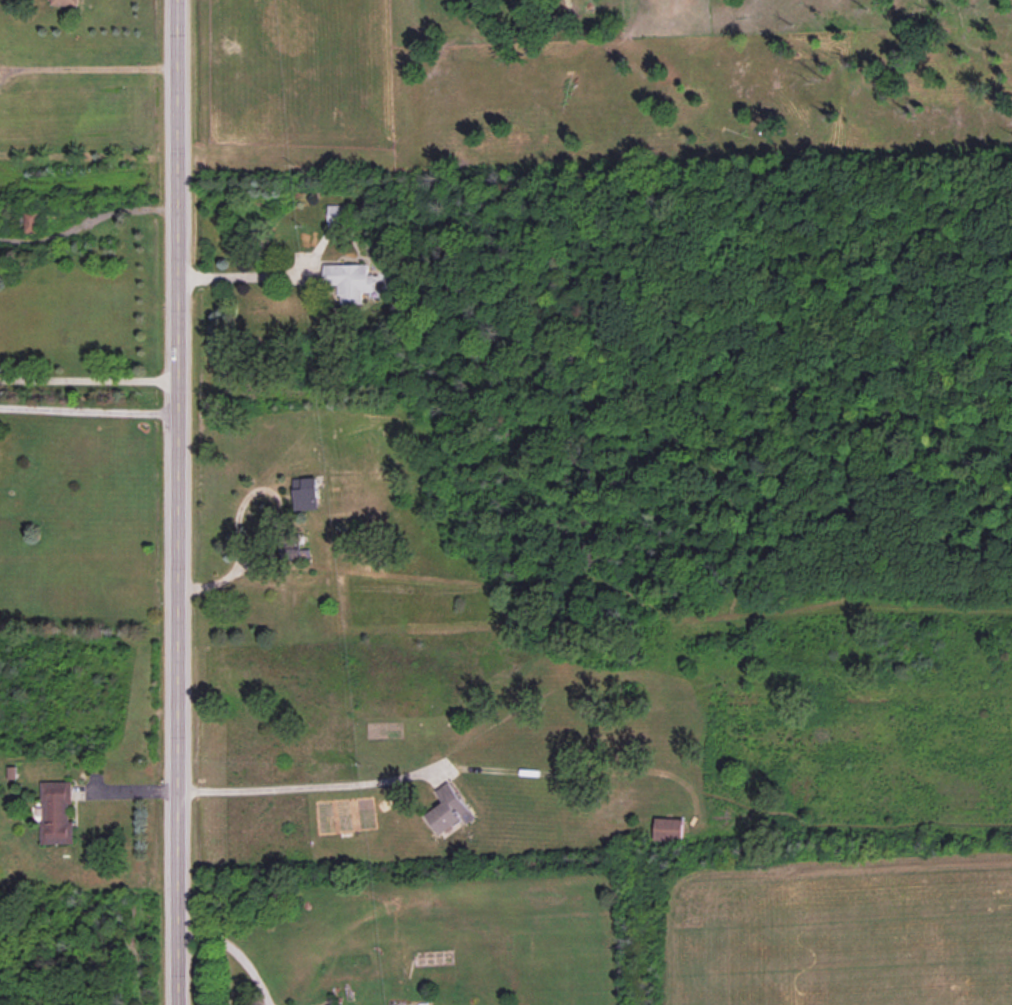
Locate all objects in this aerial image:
building: (65, 2)
road: (92, 68)
road: (104, 214)
building: (338, 215)
building: (33, 221)
road: (240, 275)
building: (350, 281)
road: (88, 378)
road: (88, 410)
building: (306, 493)
road: (178, 502)
building: (298, 553)
road: (307, 786)
building: (448, 809)
building: (58, 813)
building: (669, 829)
road: (235, 952)

